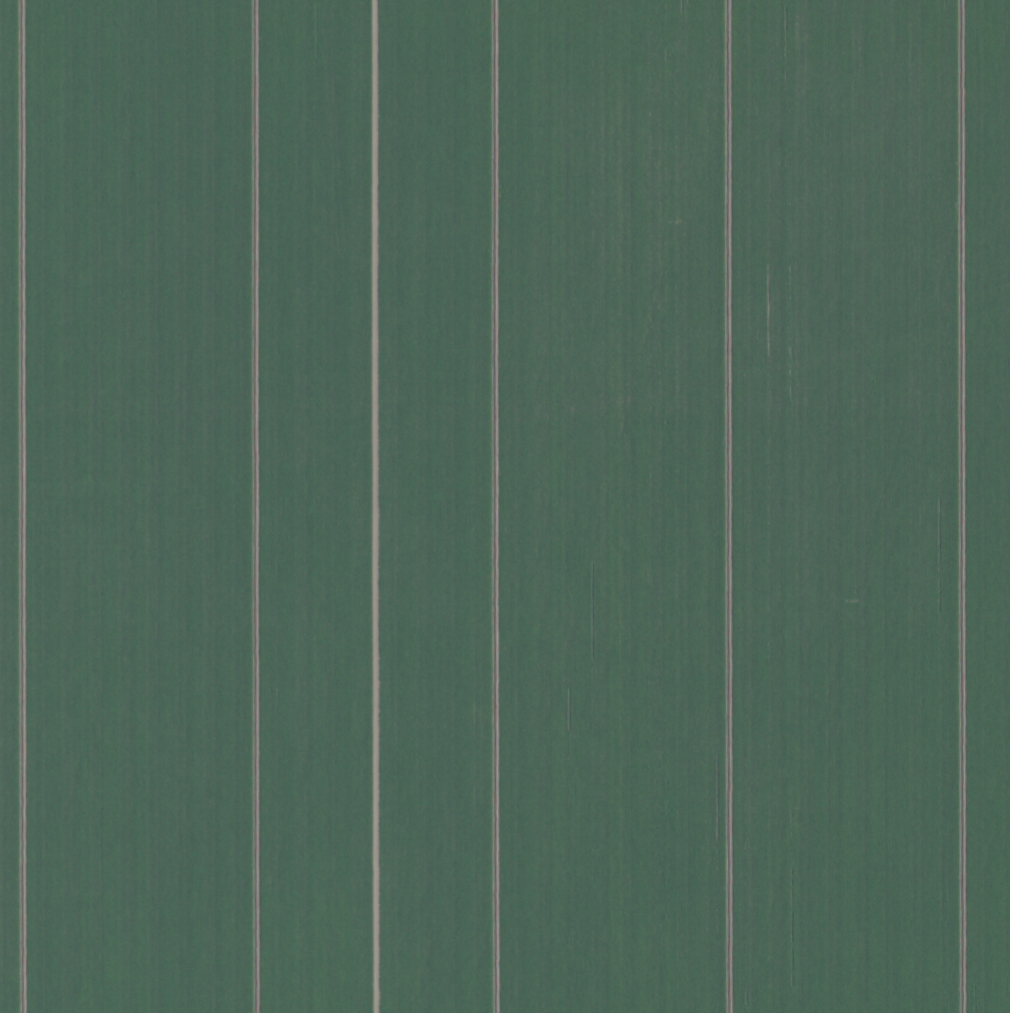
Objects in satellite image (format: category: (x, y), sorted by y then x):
crop: (505, 506)

